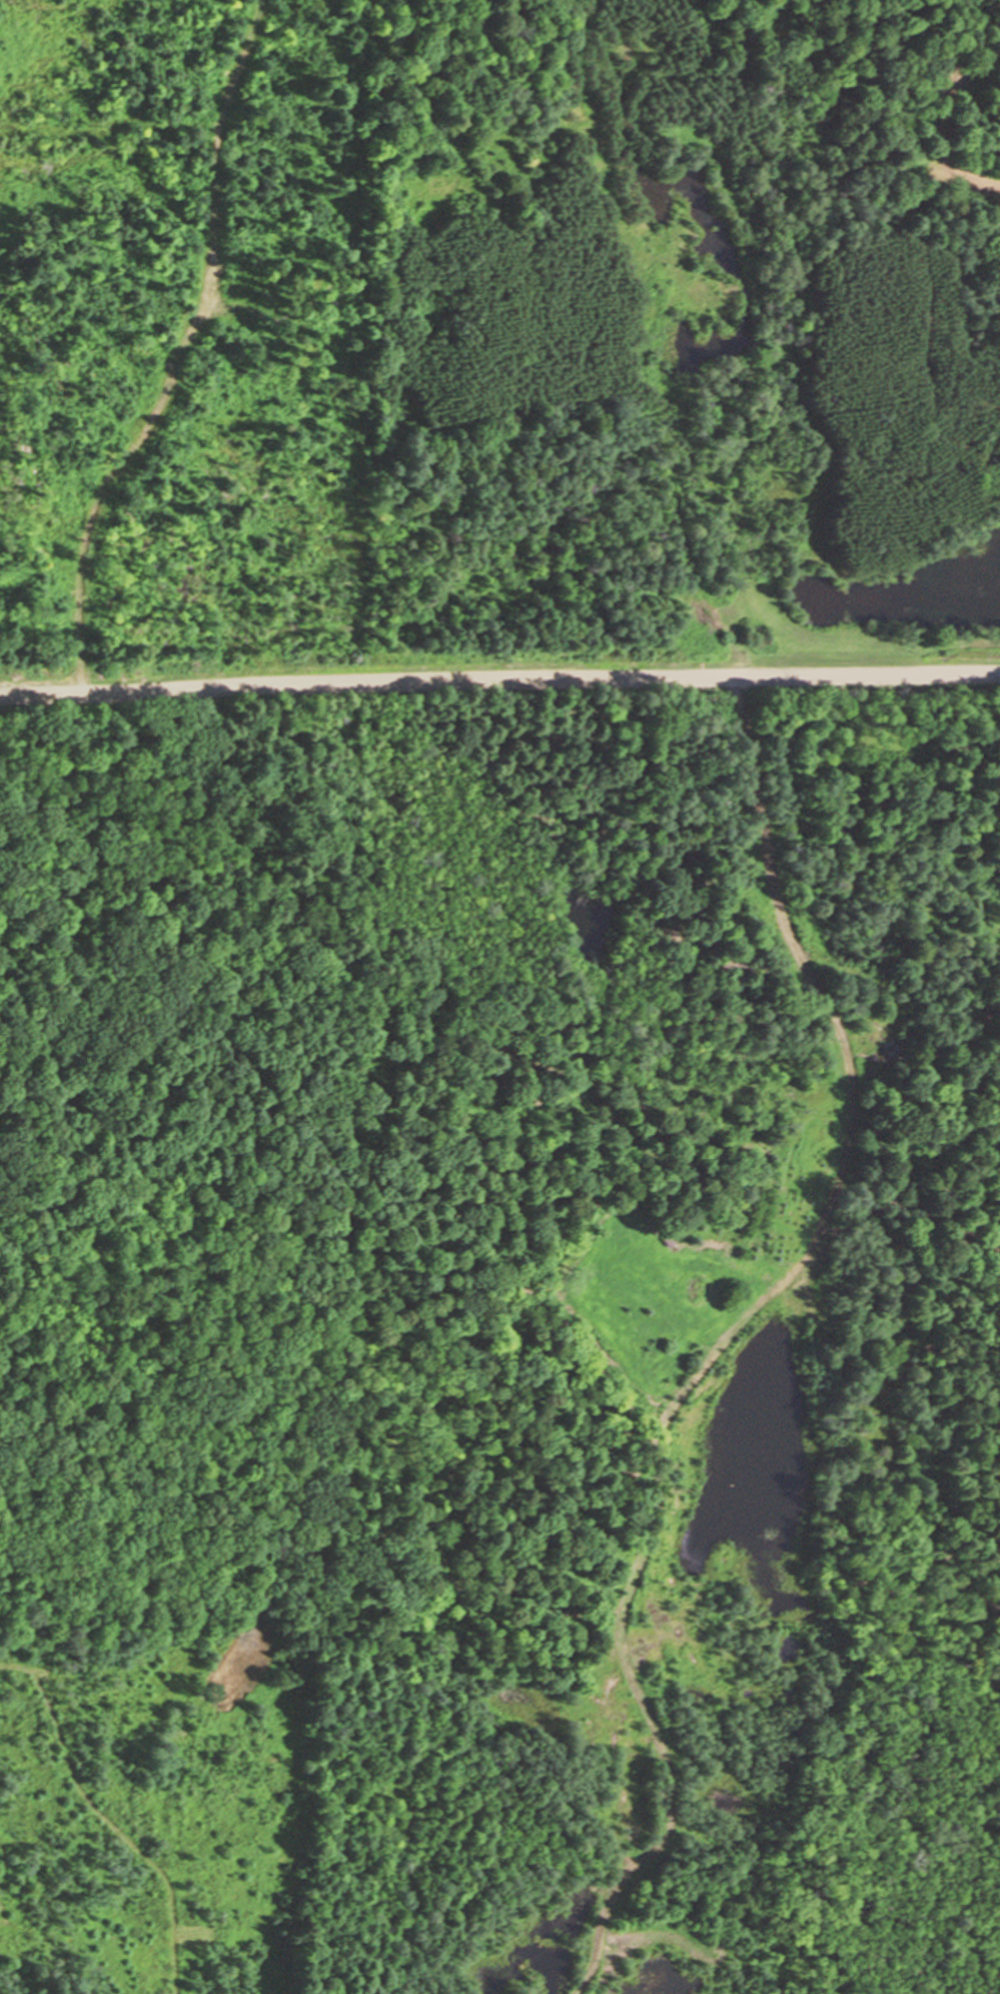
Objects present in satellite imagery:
road: (499, 682)

